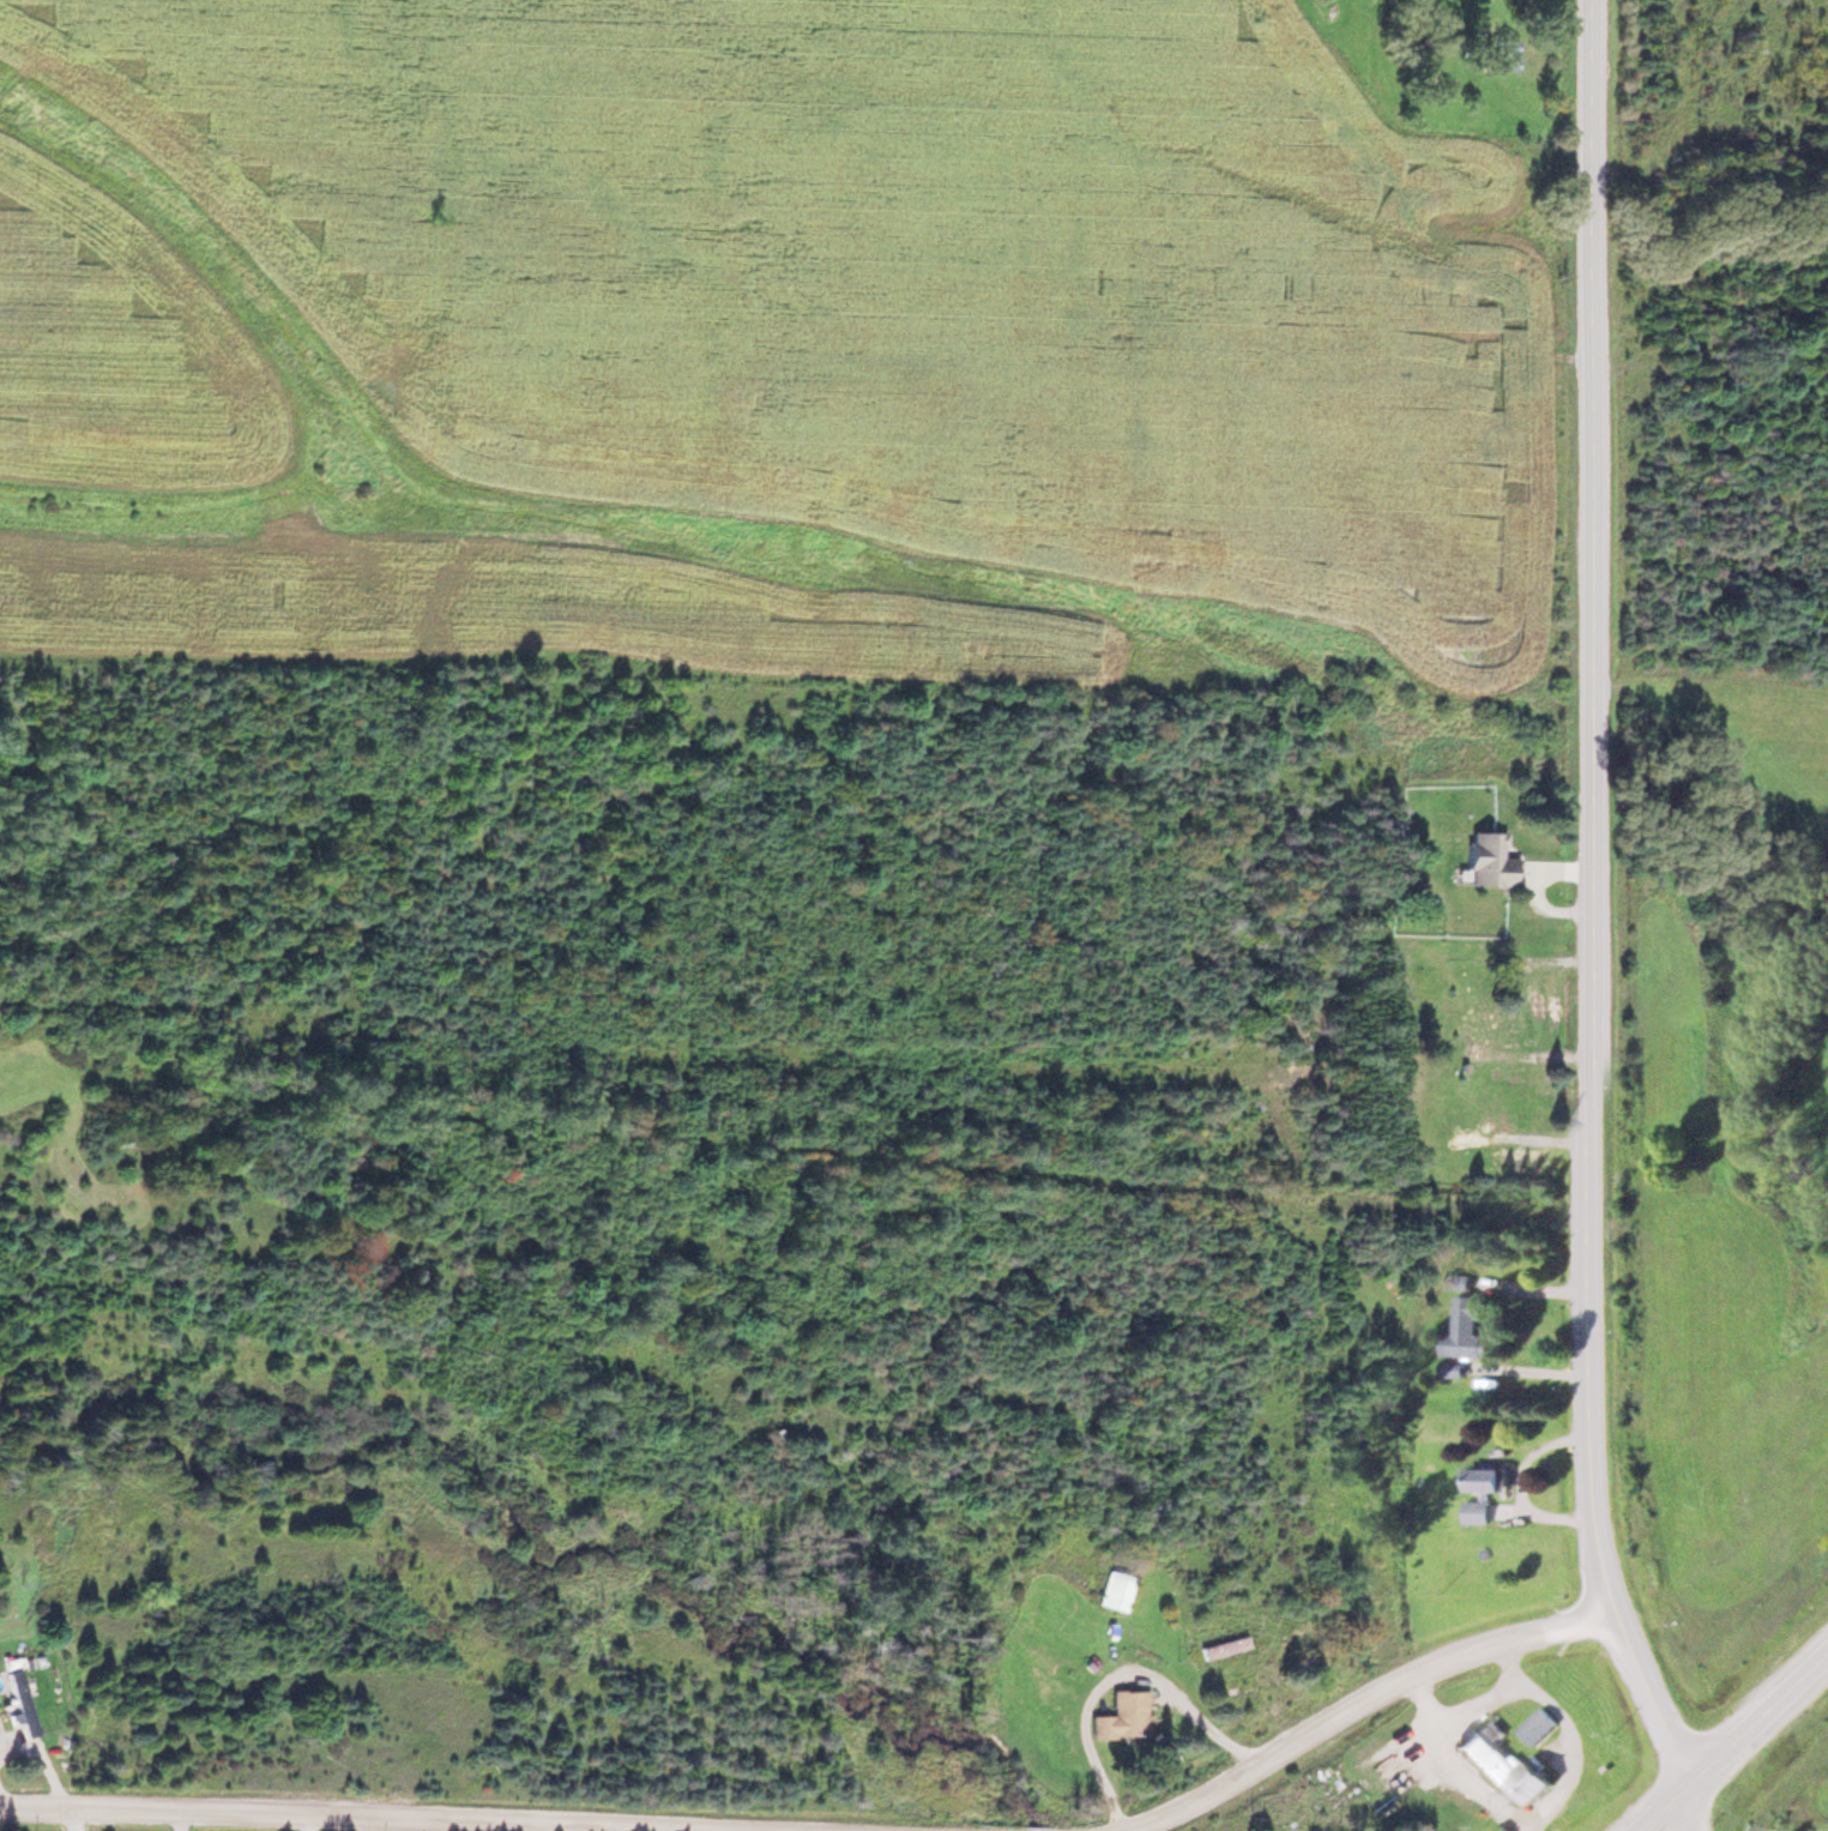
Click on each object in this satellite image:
building: (1498, 50)
building: (1484, 857)
road: (1585, 924)
building: (1467, 1329)
building: (1483, 1489)
building: (1112, 1588)
road: (1362, 1696)
road: (1474, 1698)
building: (17, 1699)
building: (1118, 1715)
building: (1534, 1723)
road: (1565, 1728)
road: (1727, 1736)
road: (1448, 1761)
building: (1504, 1767)
road: (355, 1818)

